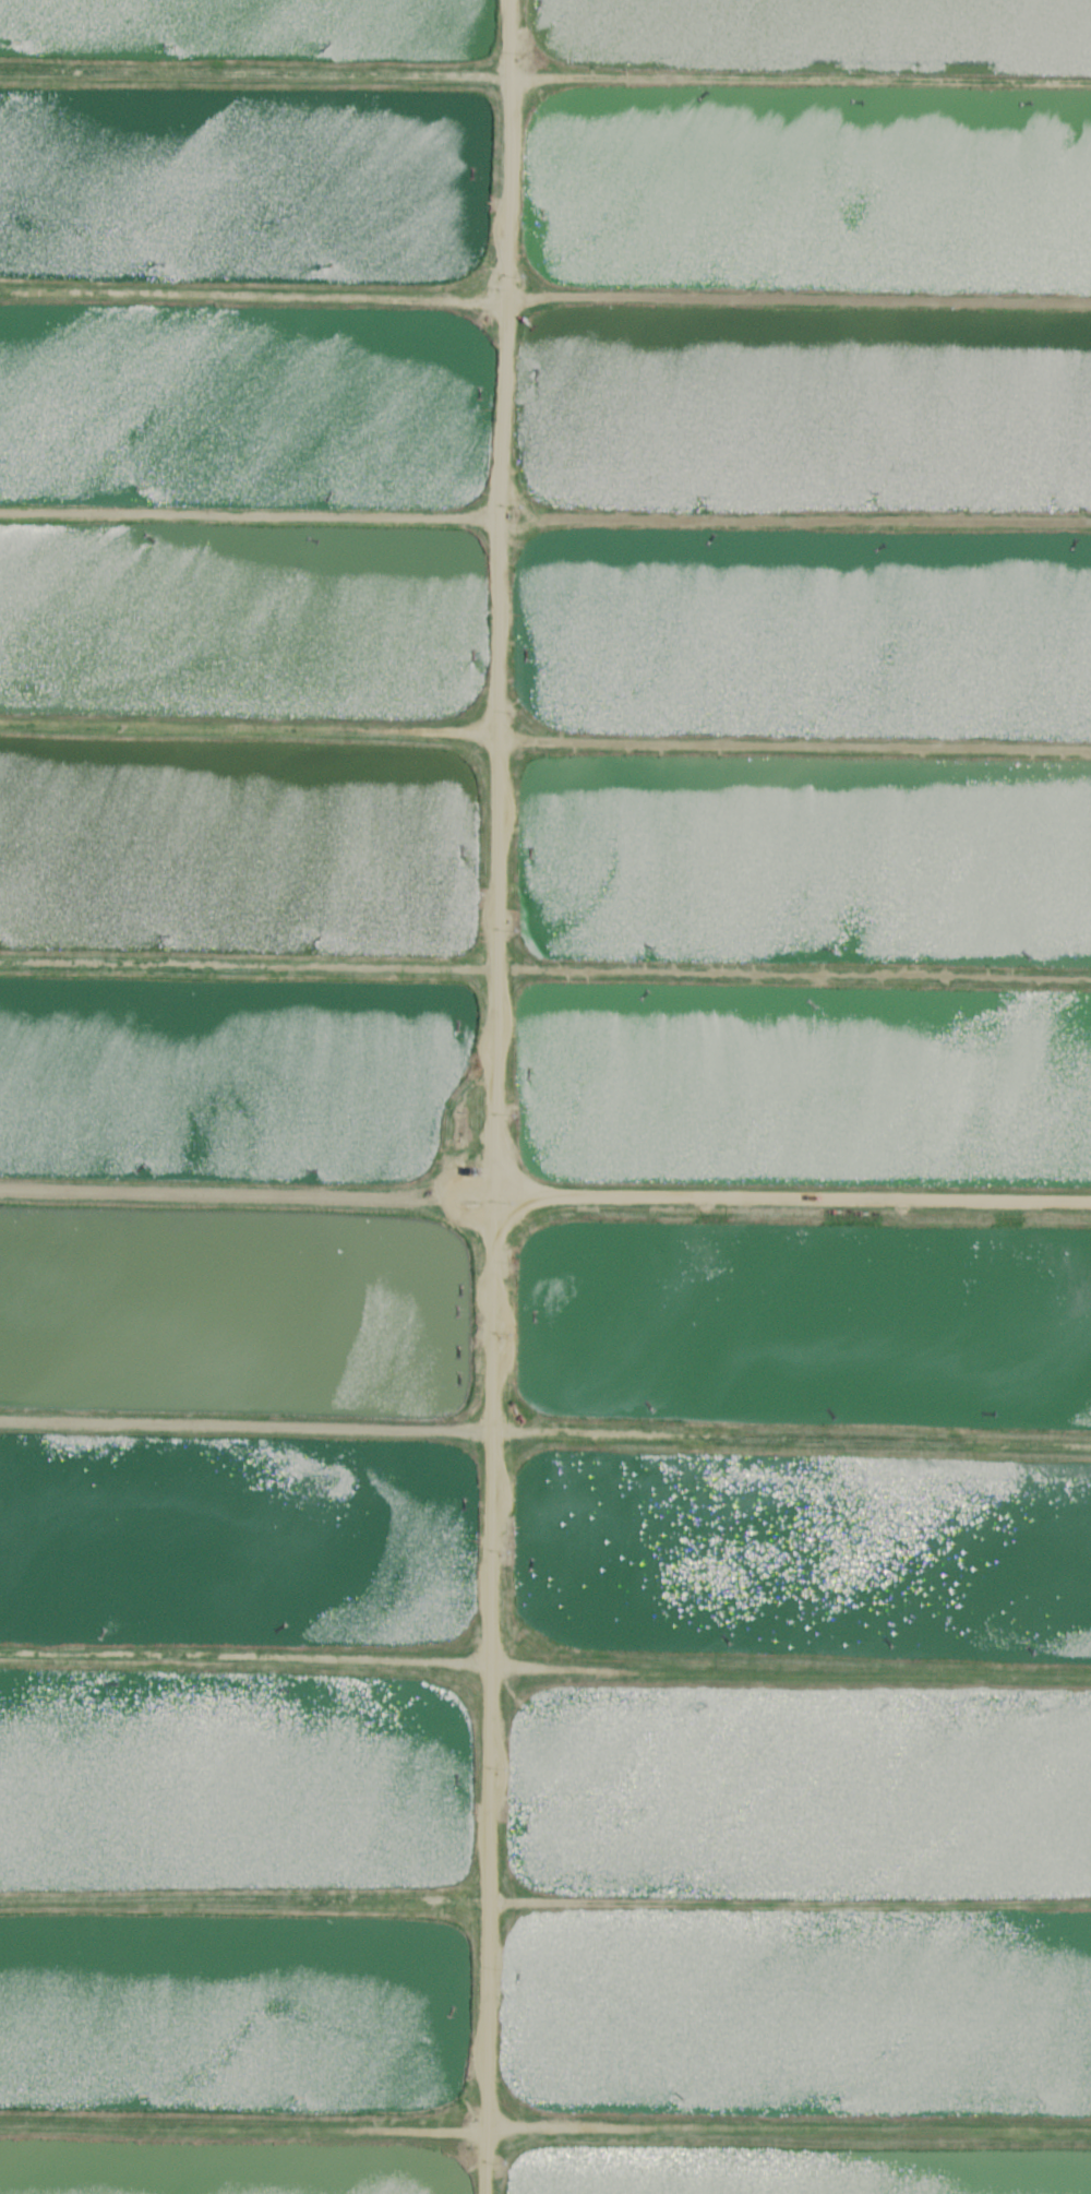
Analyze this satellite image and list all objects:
road: (494, 1097)

